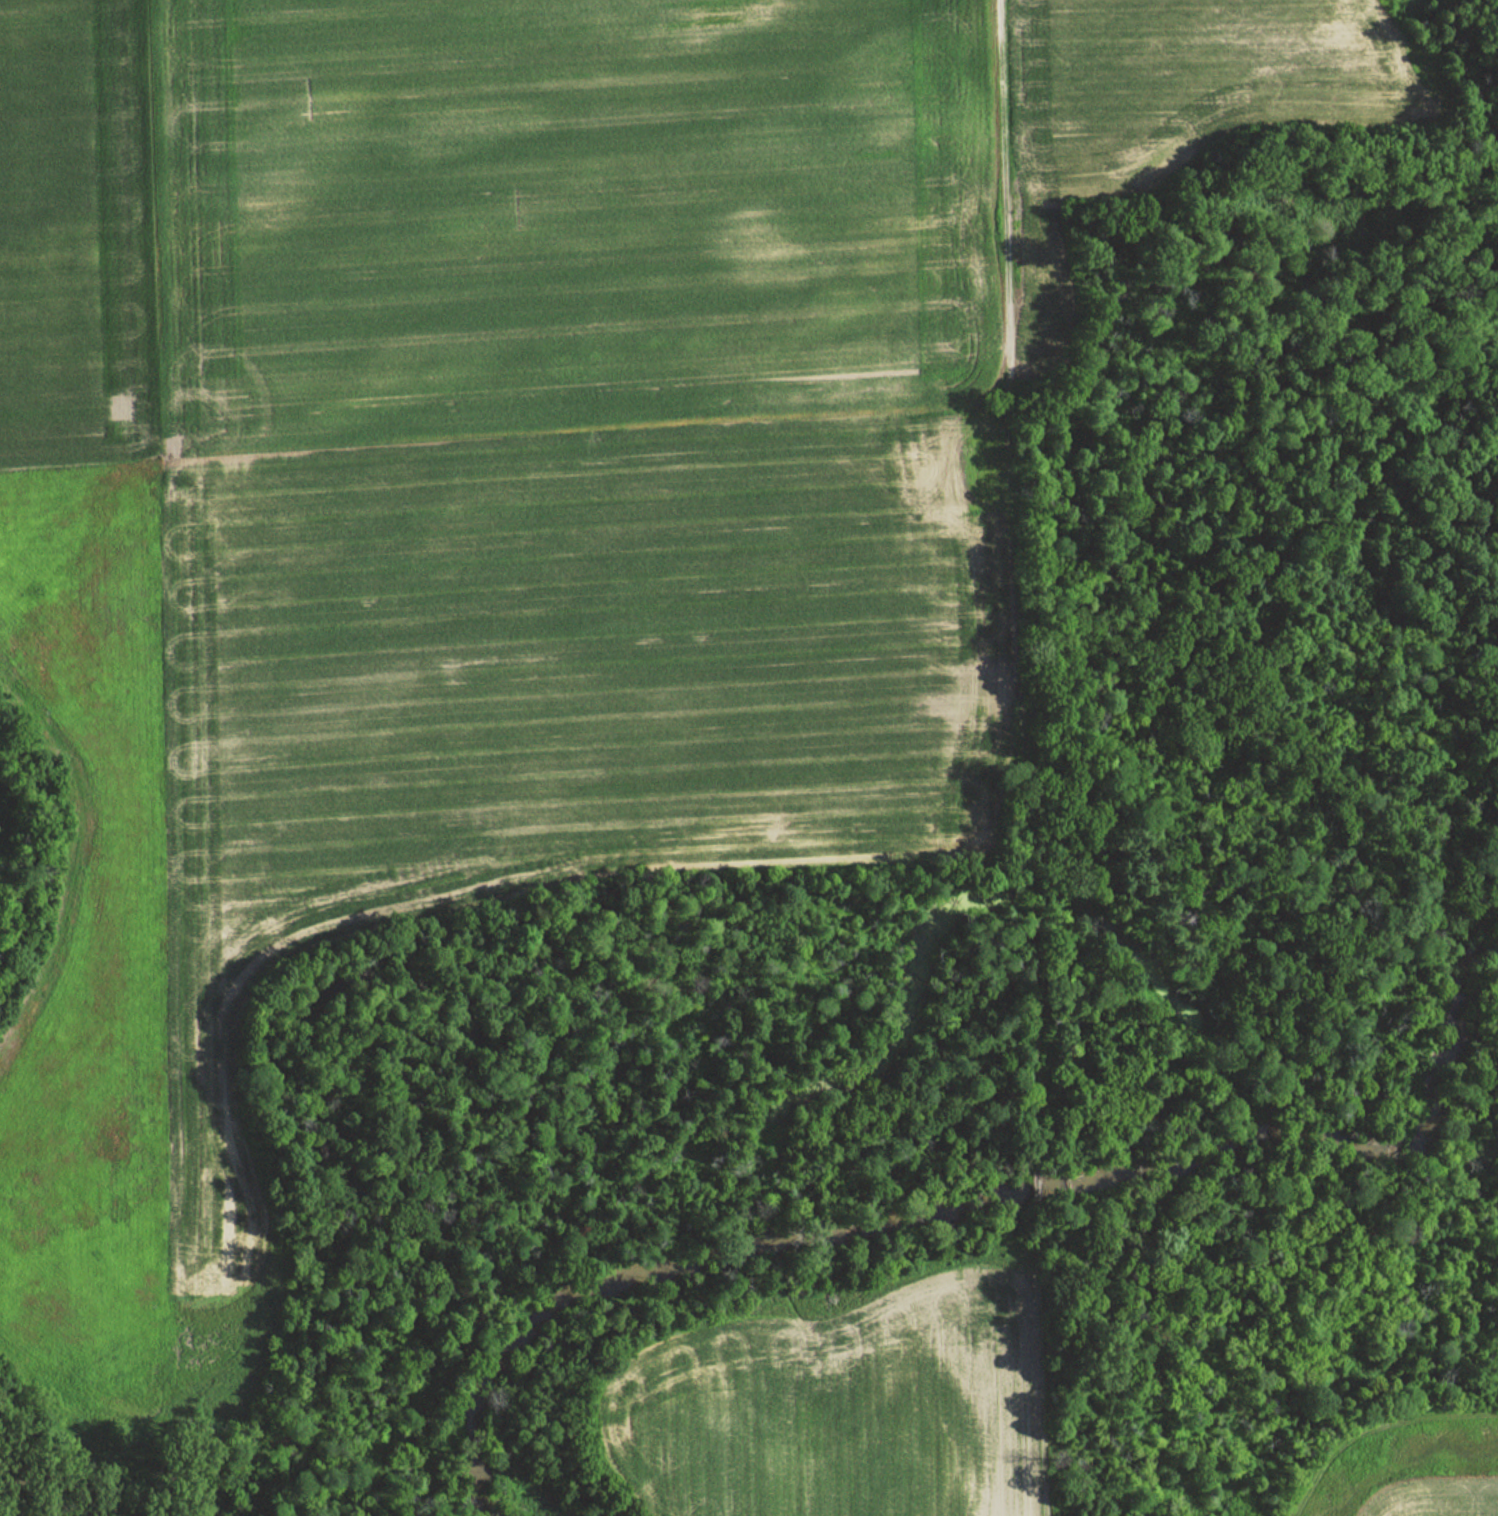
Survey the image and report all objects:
road: (1022, 526)
road: (1038, 1101)
road: (1040, 1183)
road: (1044, 1268)
road: (1049, 1417)
crop: (1437, 1499)

